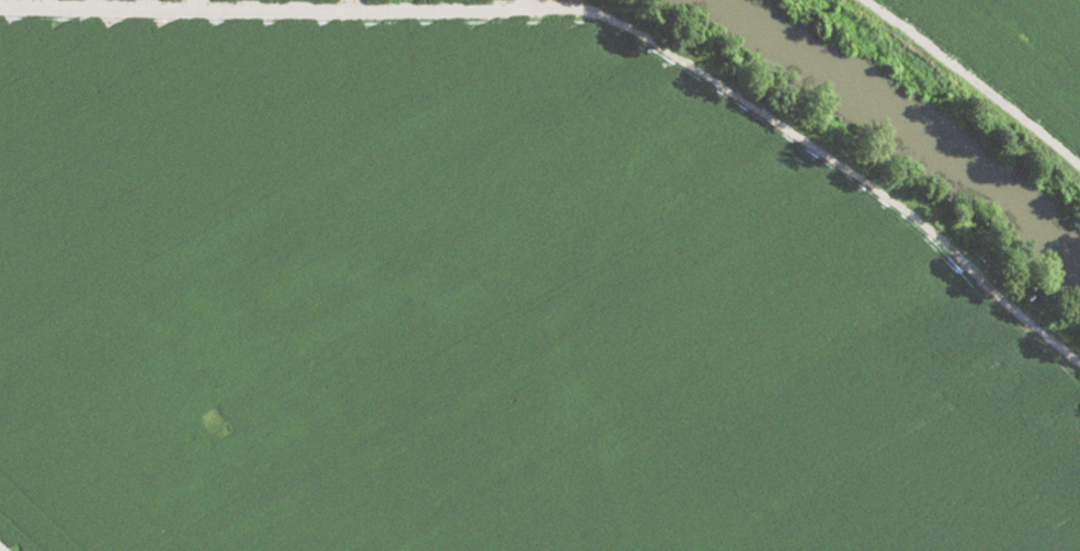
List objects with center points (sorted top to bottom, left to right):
road: (973, 80)
river: (894, 137)
road: (843, 174)

